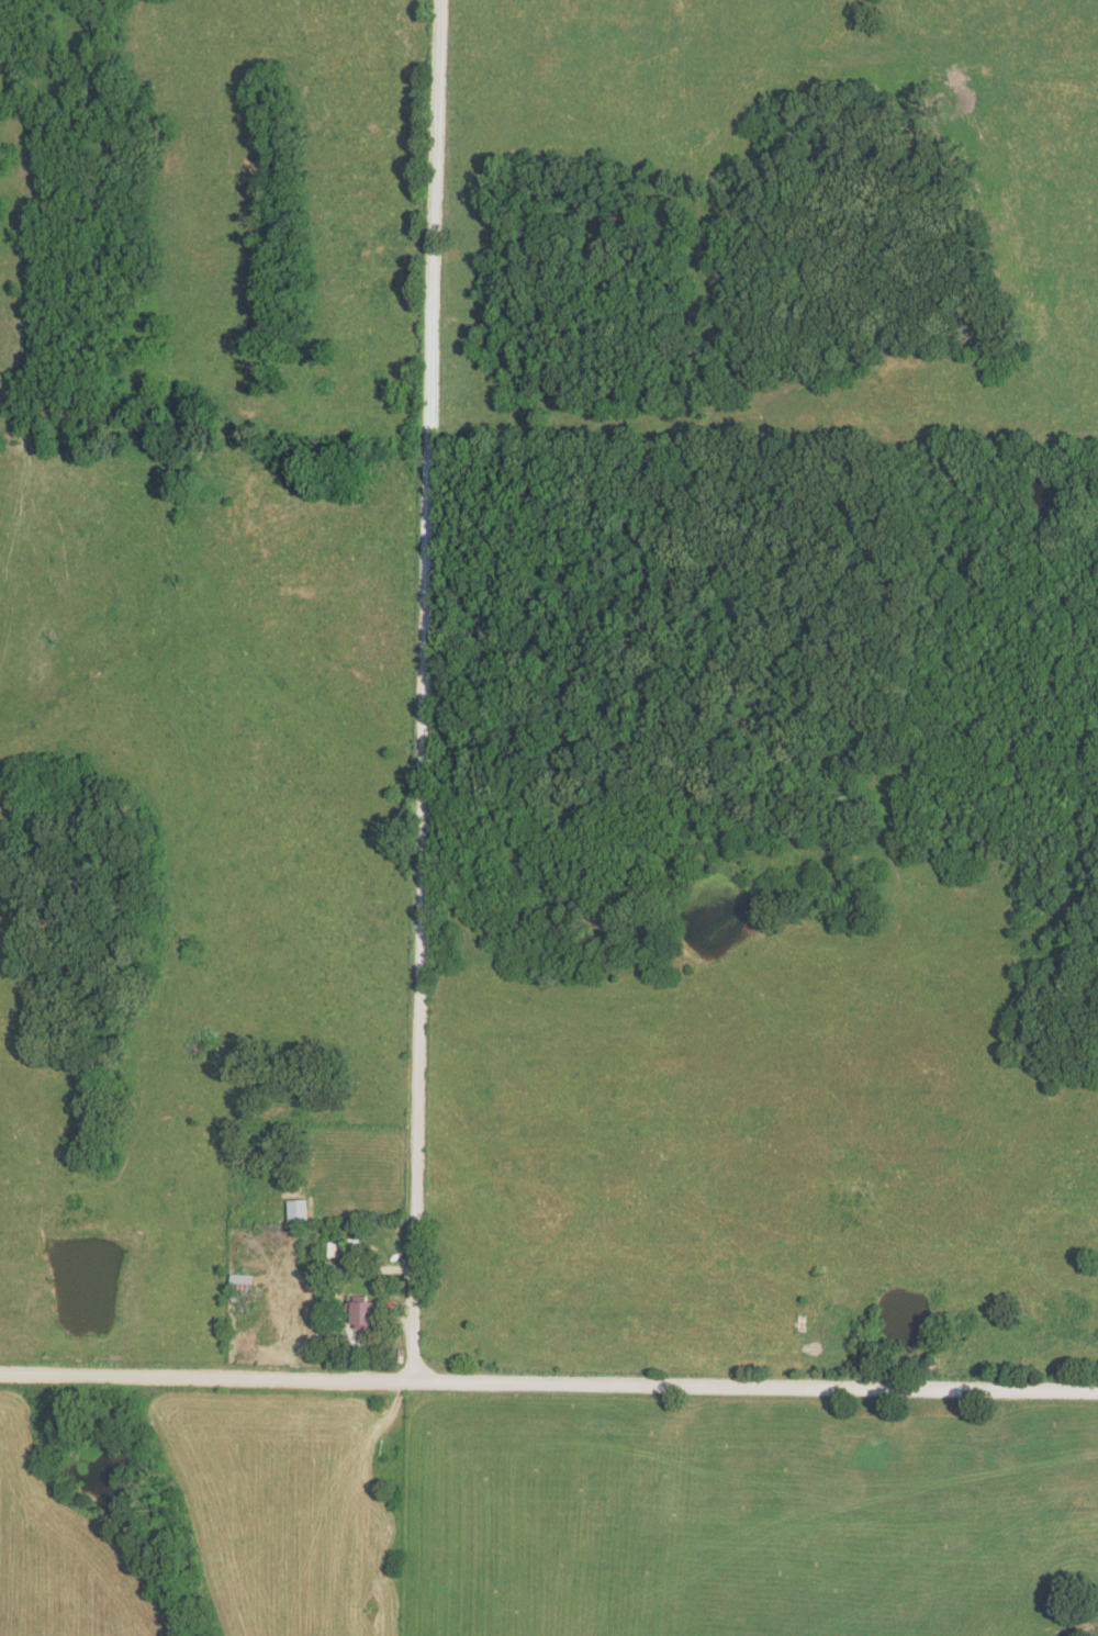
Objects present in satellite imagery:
road: (426, 693)
building: (299, 1211)
building: (329, 1251)
building: (243, 1286)
building: (365, 1312)
road: (548, 1385)

